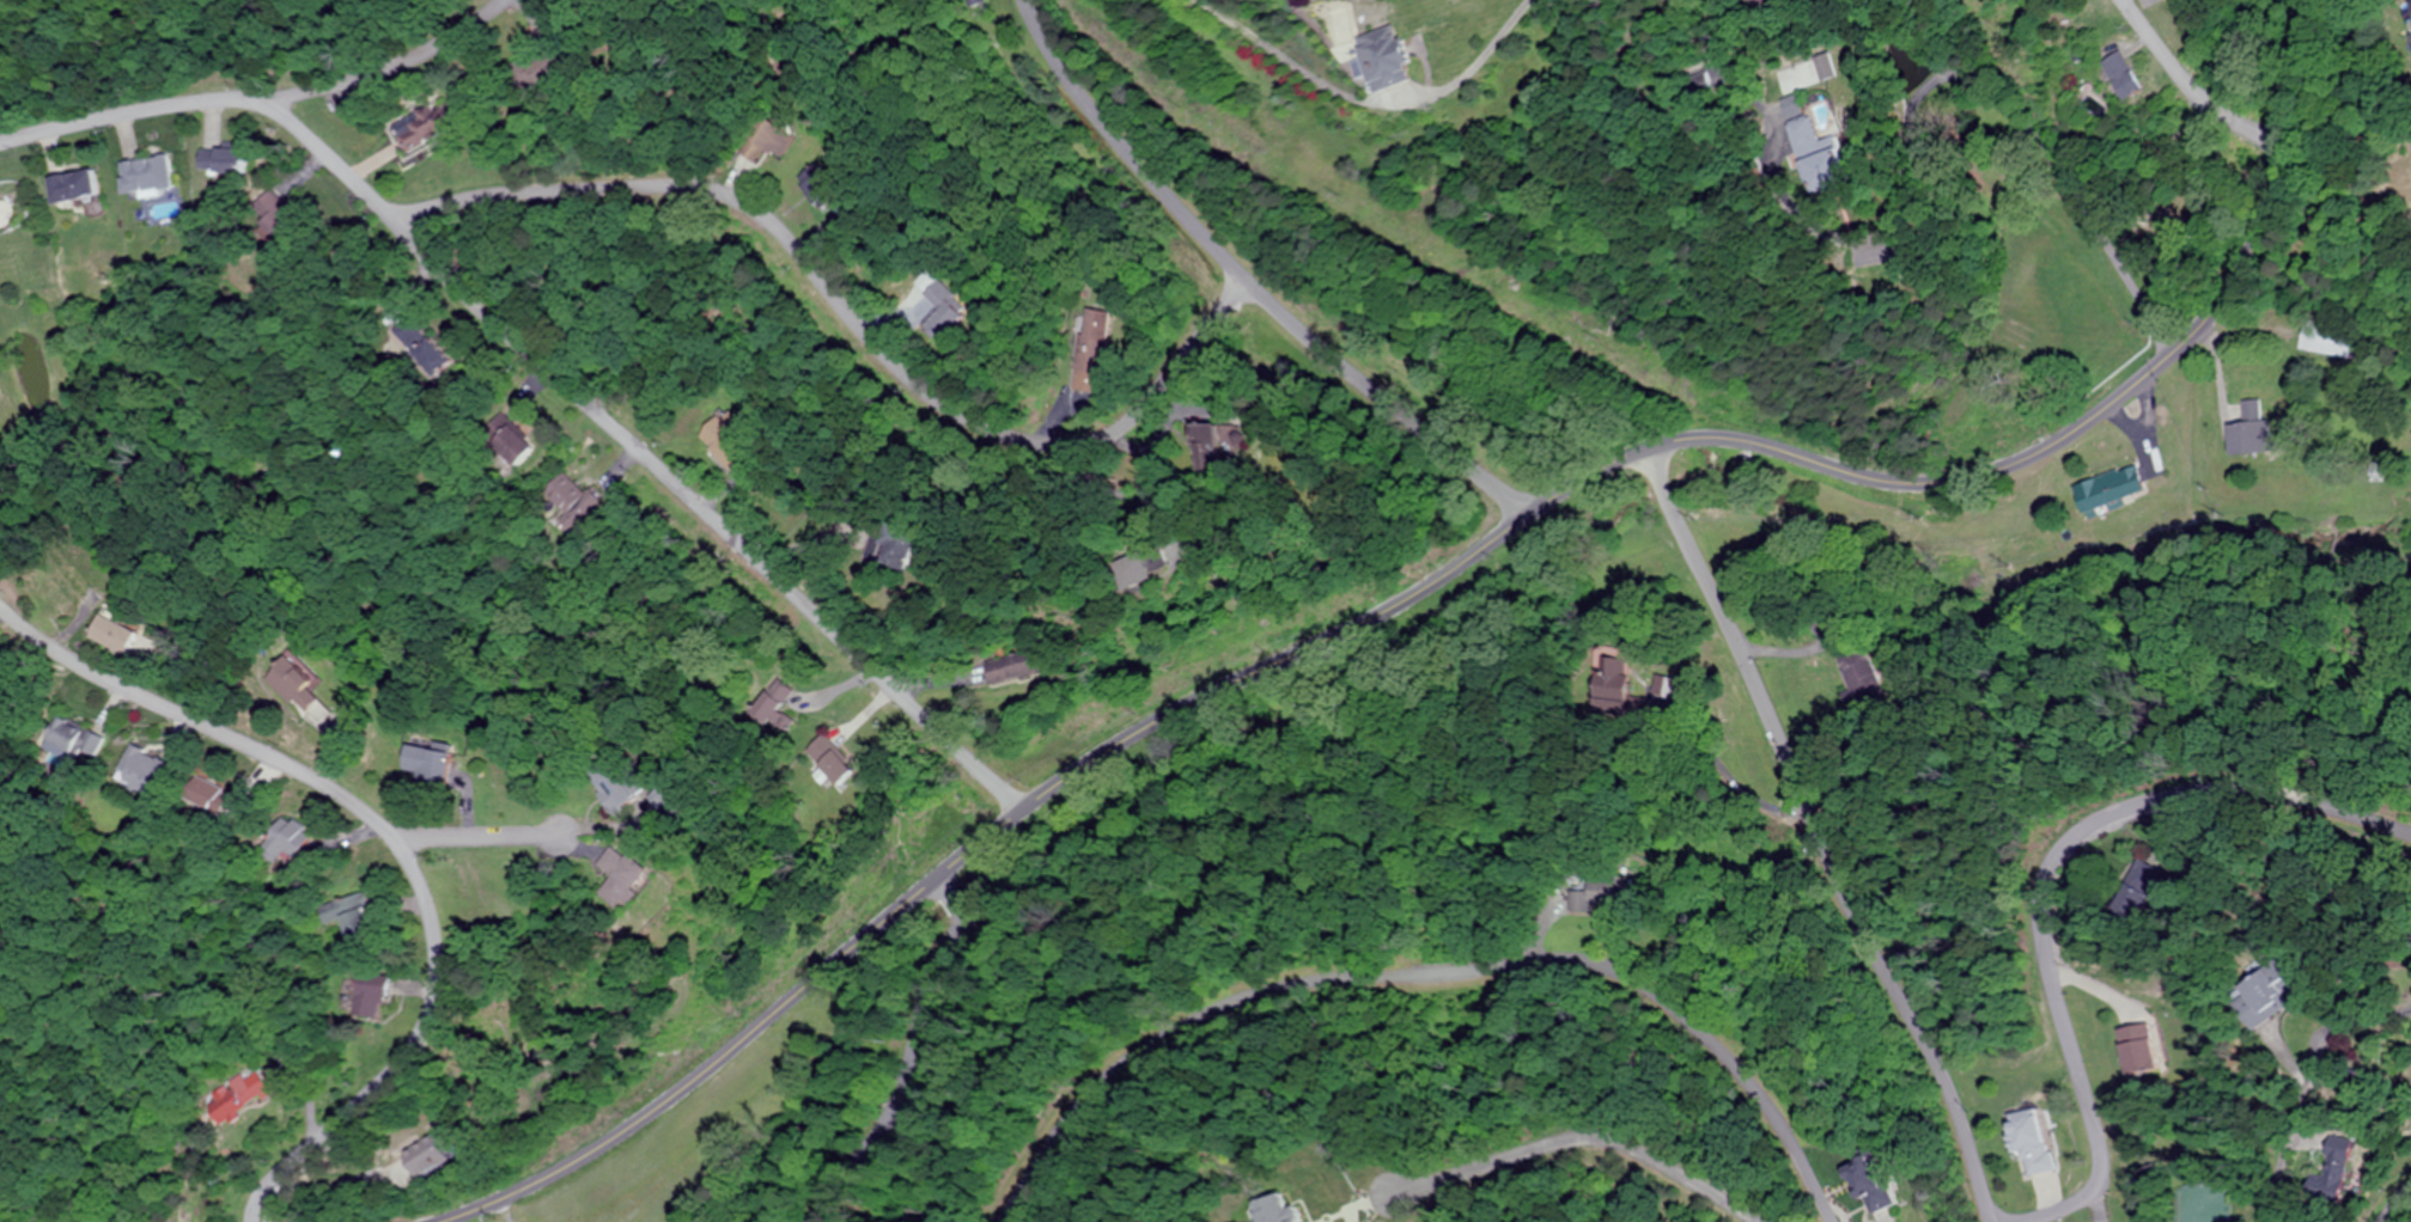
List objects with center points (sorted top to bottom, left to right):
building: (1377, 57)
road: (378, 71)
building: (2120, 74)
road: (2194, 90)
building: (219, 159)
building: (142, 173)
building: (65, 185)
road: (681, 185)
road: (1246, 283)
building: (2322, 338)
road: (704, 513)
road: (1437, 575)
building: (426, 762)
road: (1820, 833)
road: (461, 836)
road: (391, 841)
road: (549, 842)
road: (2050, 878)
building: (2136, 885)
building: (353, 912)
road: (1431, 971)
building: (2254, 992)
building: (2136, 1051)
road: (912, 1058)
road: (2308, 1087)
road: (1667, 1159)
building: (421, 1160)
building: (2042, 1160)
building: (2333, 1160)
road: (2397, 1200)
building: (1270, 1206)

